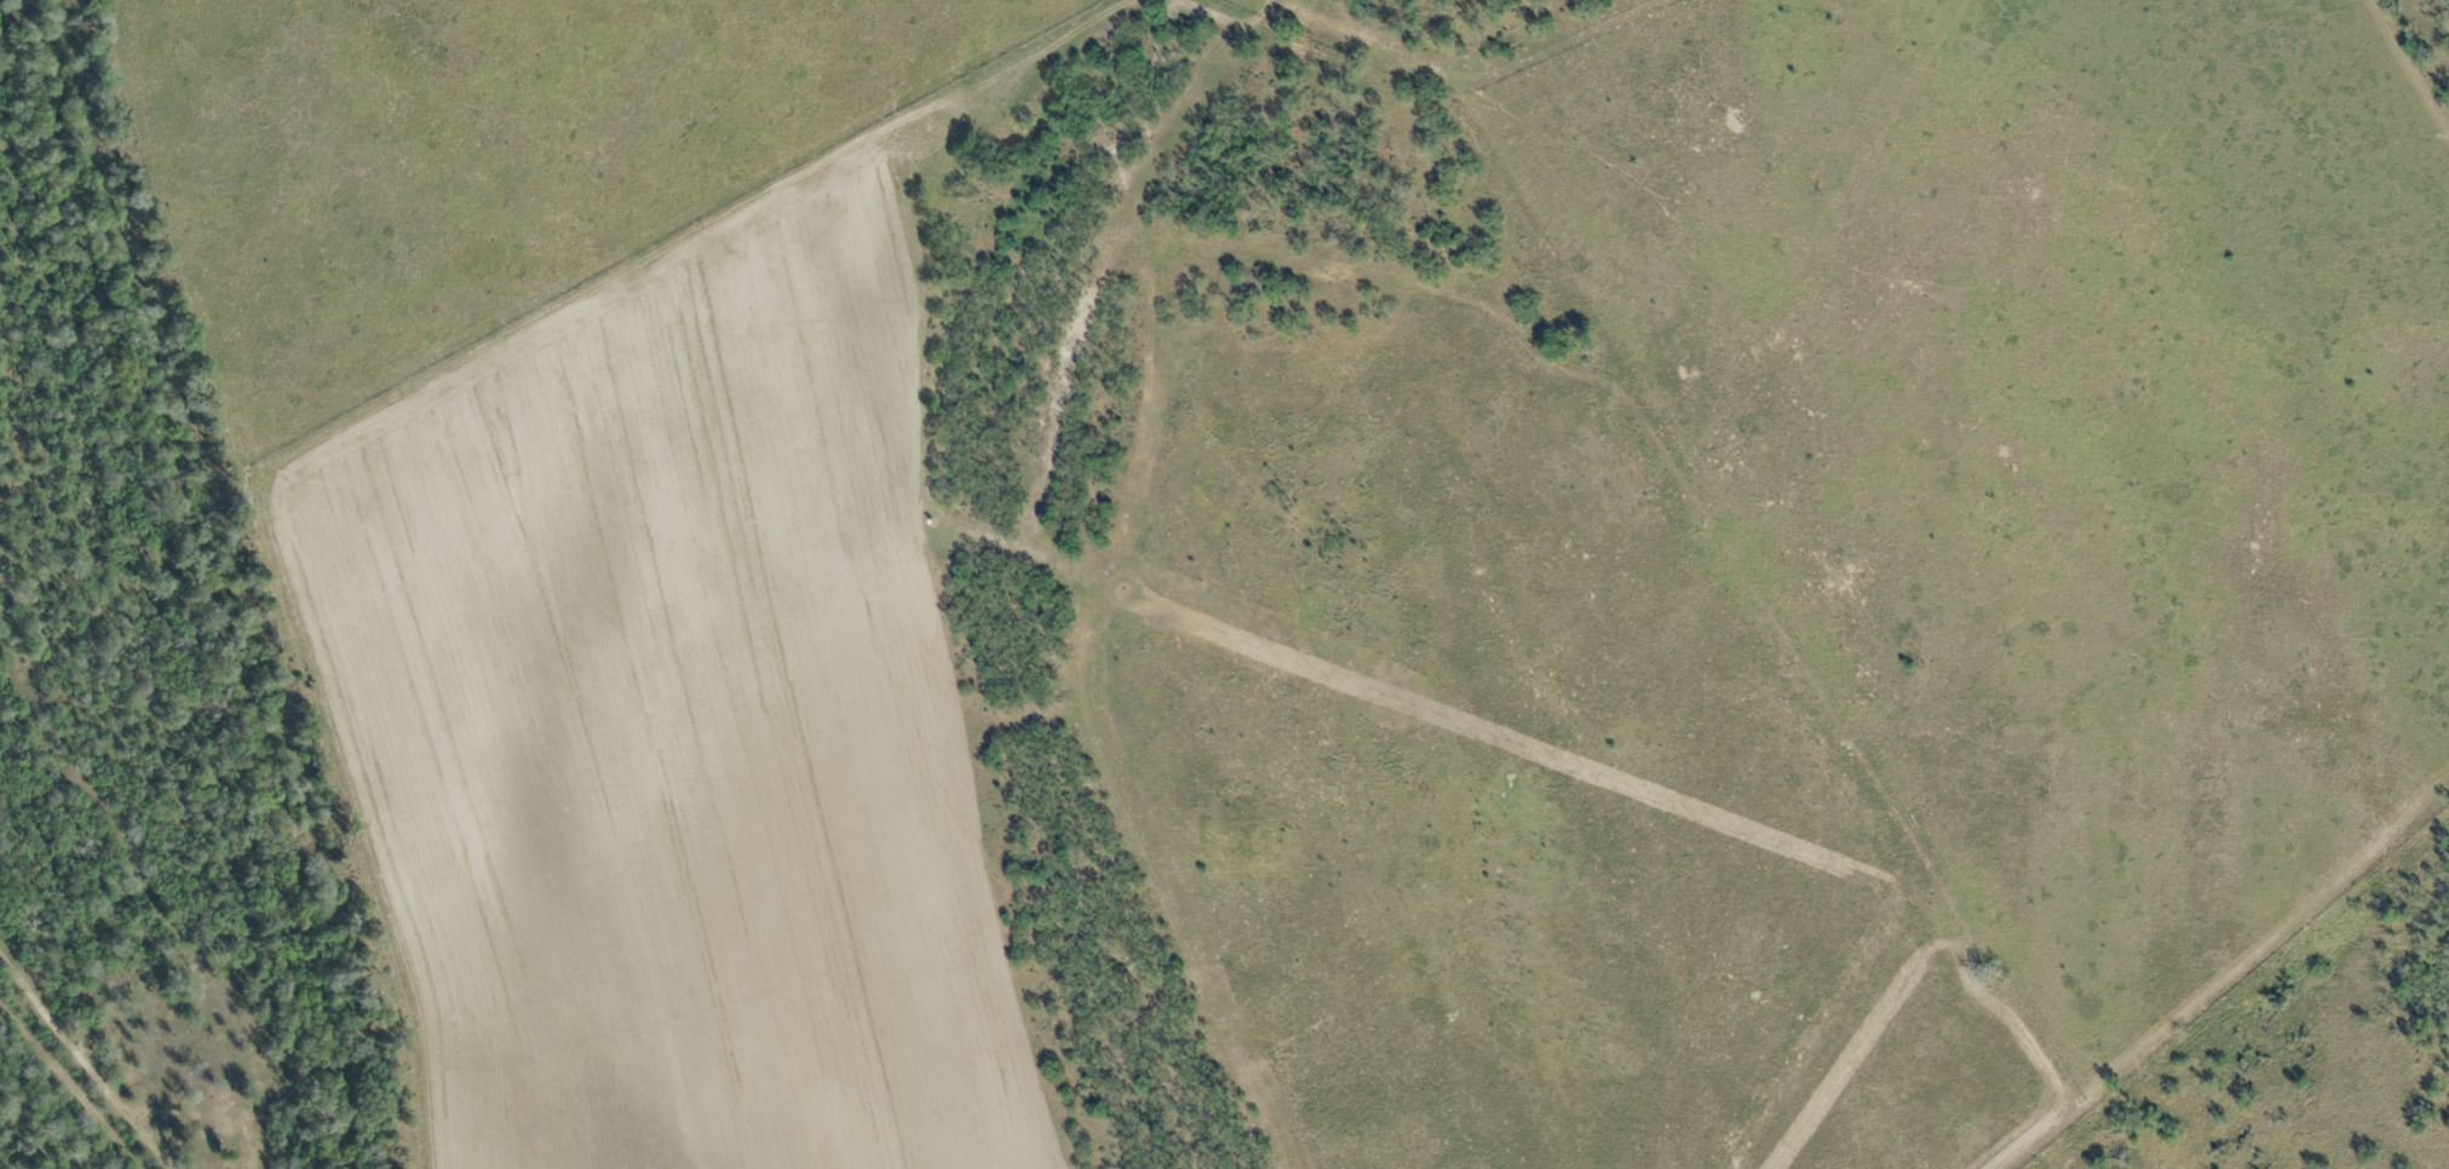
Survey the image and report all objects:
river: (202, 570)

